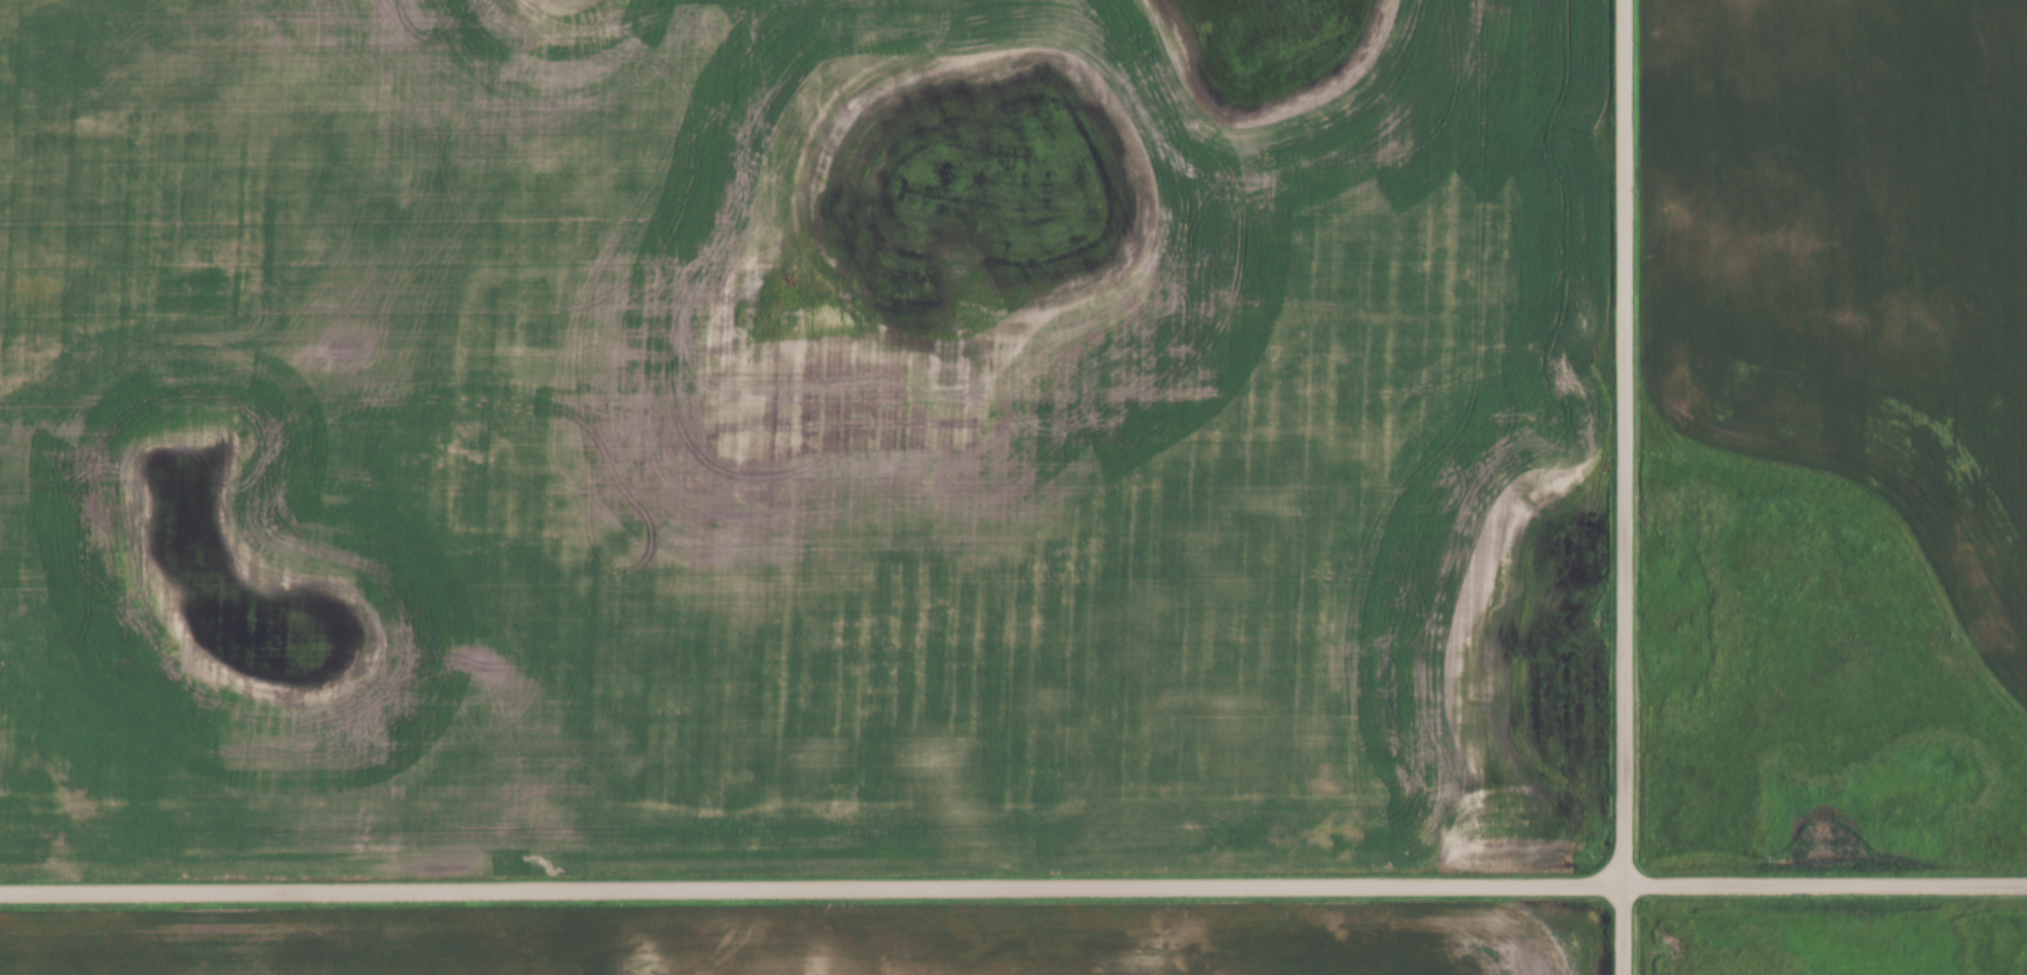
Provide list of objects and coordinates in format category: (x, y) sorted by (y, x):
road: (1627, 487)
road: (1013, 886)

